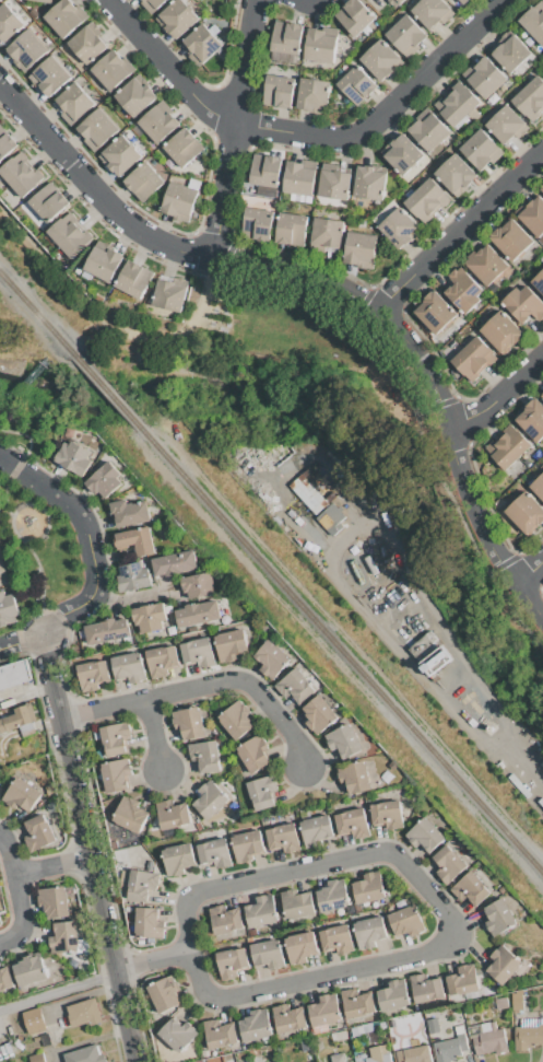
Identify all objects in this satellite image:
building: (46, 1)
building: (399, 1)
building: (463, 1)
building: (152, 4)
building: (434, 11)
building: (354, 16)
building: (64, 17)
building: (177, 17)
building: (8, 23)
building: (533, 24)
building: (406, 35)
building: (287, 37)
building: (87, 44)
building: (202, 45)
building: (321, 45)
building: (27, 49)
building: (510, 52)
building: (380, 58)
building: (111, 70)
road: (170, 70)
building: (51, 75)
building: (484, 78)
building: (357, 84)
building: (279, 91)
building: (314, 94)
building: (135, 96)
building: (530, 100)
building: (75, 102)
building: (457, 104)
road: (390, 113)
building: (158, 124)
building: (506, 125)
building: (98, 127)
building: (428, 129)
road: (240, 131)
building: (5, 144)
building: (184, 148)
building: (481, 150)
building: (402, 153)
building: (121, 155)
building: (265, 170)
building: (21, 174)
building: (456, 175)
building: (300, 177)
building: (143, 182)
building: (370, 182)
building: (334, 183)
building: (542, 186)
building: (542, 189)
building: (179, 200)
building: (426, 200)
building: (49, 202)
building: (532, 214)
building: (257, 224)
building: (399, 227)
building: (292, 229)
road: (460, 232)
building: (70, 235)
building: (327, 235)
building: (511, 240)
building: (359, 248)
building: (104, 261)
building: (487, 267)
building: (134, 279)
building: (539, 282)
building: (463, 289)
road: (333, 290)
building: (169, 295)
building: (524, 304)
building: (435, 312)
railway: (37, 314)
building: (500, 331)
road: (133, 348)
building: (474, 359)
road: (497, 390)
railway: (106, 392)
building: (542, 396)
building: (532, 419)
building: (507, 446)
building: (74, 458)
building: (104, 480)
building: (538, 486)
building: (307, 493)
road: (8, 510)
building: (129, 513)
building: (526, 513)
building: (329, 516)
building: (135, 540)
road: (96, 562)
building: (174, 563)
building: (3, 572)
road: (529, 573)
building: (132, 579)
building: (199, 585)
building: (8, 609)
building: (198, 614)
building: (150, 617)
building: (107, 630)
building: (231, 644)
building: (423, 645)
railway: (341, 650)
building: (199, 652)
building: (271, 658)
building: (162, 661)
building: (435, 661)
building: (129, 667)
building: (14, 674)
building: (93, 675)
building: (295, 686)
road: (56, 687)
road: (206, 690)
building: (317, 713)
building: (236, 720)
building: (20, 721)
building: (189, 723)
road: (154, 735)
building: (116, 738)
building: (343, 740)
building: (253, 754)
building: (205, 756)
road: (527, 761)
building: (542, 763)
building: (116, 774)
building: (354, 777)
building: (261, 792)
building: (21, 795)
building: (211, 800)
building: (131, 814)
building: (172, 814)
building: (388, 815)
building: (354, 824)
building: (317, 830)
building: (38, 832)
building: (426, 836)
building: (284, 837)
building: (247, 844)
building: (215, 853)
building: (178, 859)
building: (448, 864)
road: (52, 867)
building: (142, 884)
building: (368, 888)
building: (470, 889)
road: (19, 892)
building: (333, 896)
building: (54, 901)
road: (99, 903)
building: (297, 903)
building: (261, 911)
building: (499, 917)
building: (225, 920)
building: (406, 921)
building: (0, 922)
building: (149, 923)
building: (369, 932)
building: (64, 936)
building: (338, 938)
building: (300, 947)
road: (440, 950)
building: (268, 954)
road: (155, 962)
building: (232, 962)
building: (505, 965)
building: (29, 970)
building: (5, 979)
building: (463, 980)
building: (426, 988)
road: (58, 989)
building: (165, 994)
building: (394, 995)
building: (517, 1002)
building: (357, 1003)
building: (501, 1003)
building: (326, 1010)
building: (84, 1013)
building: (290, 1018)
building: (34, 1020)
building: (256, 1025)
building: (433, 1025)
building: (362, 1029)
building: (177, 1034)
building: (220, 1034)
building: (528, 1034)
building: (340, 1036)
building: (487, 1038)
building: (46, 1039)
building: (304, 1047)
building: (450, 1048)
building: (414, 1052)
building: (86, 1054)
building: (373, 1055)
building: (36, 1058)
building: (338, 1058)
building: (352, 1061)

